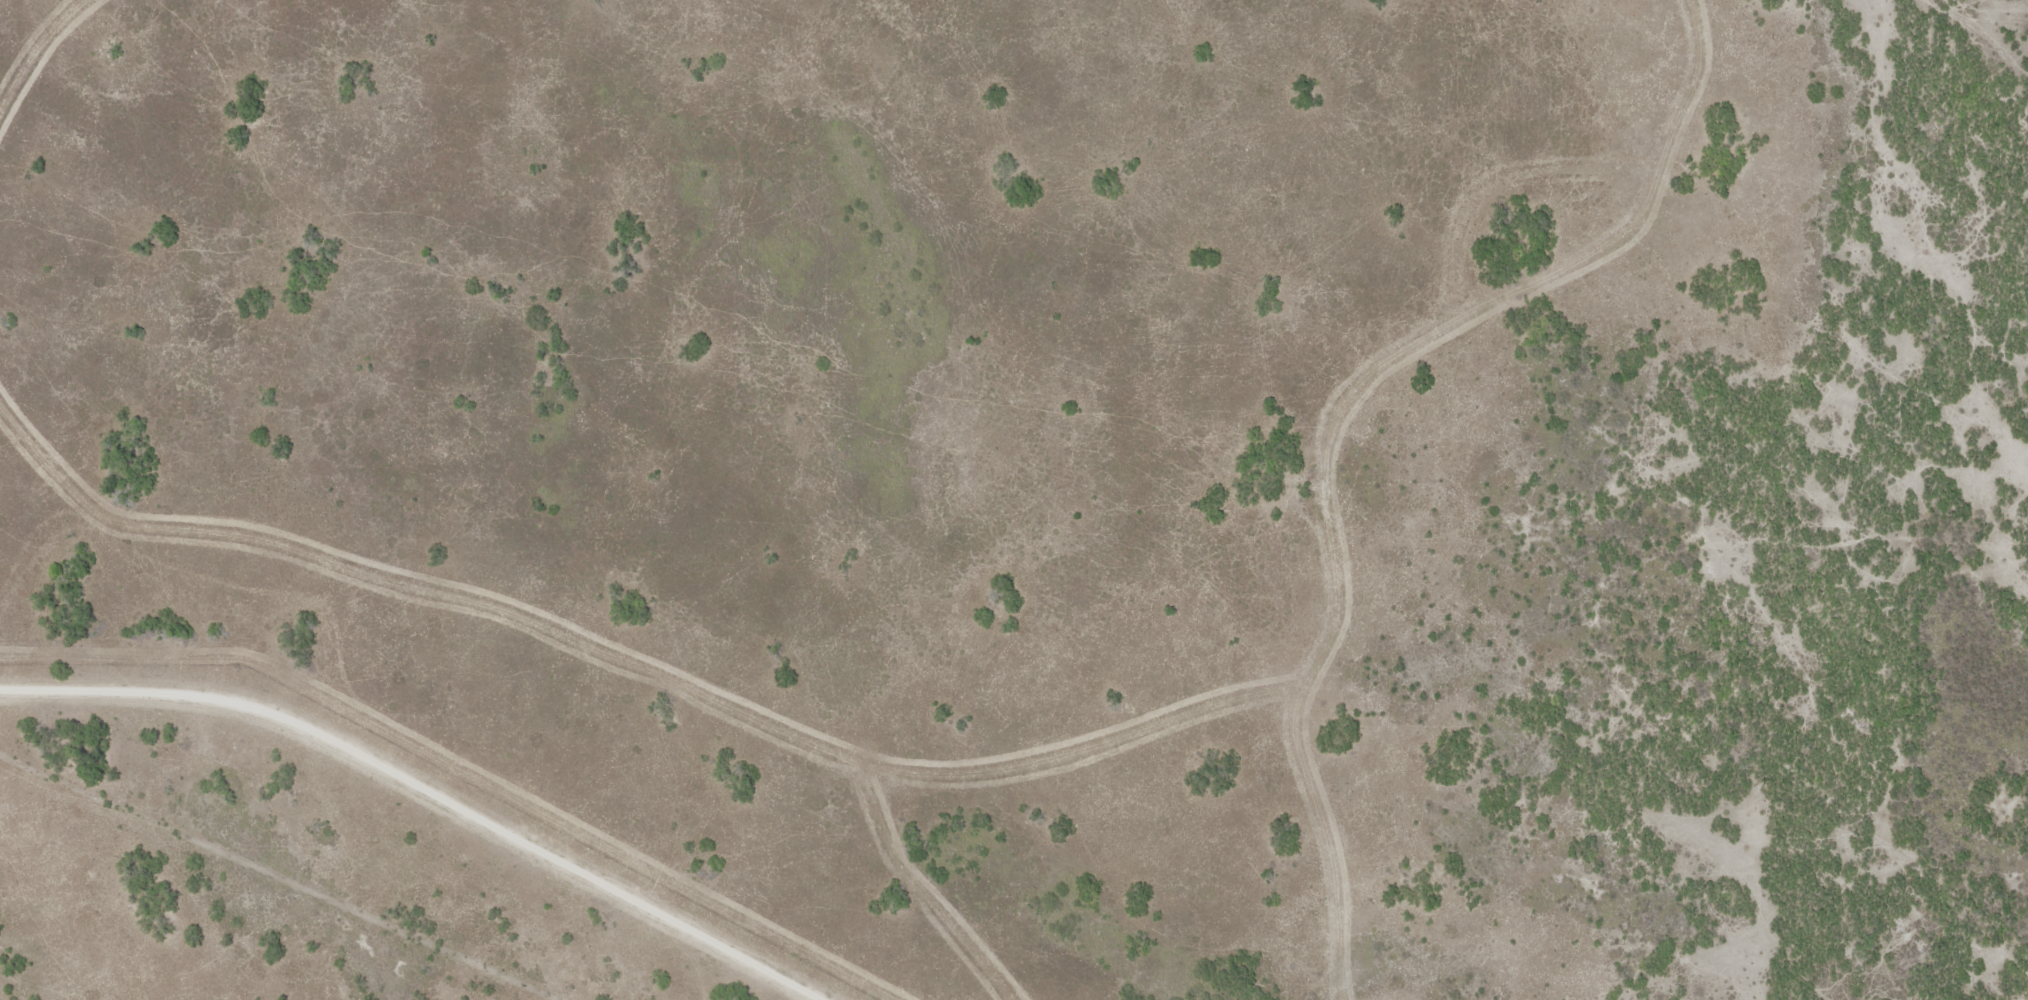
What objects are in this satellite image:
road: (400, 800)

